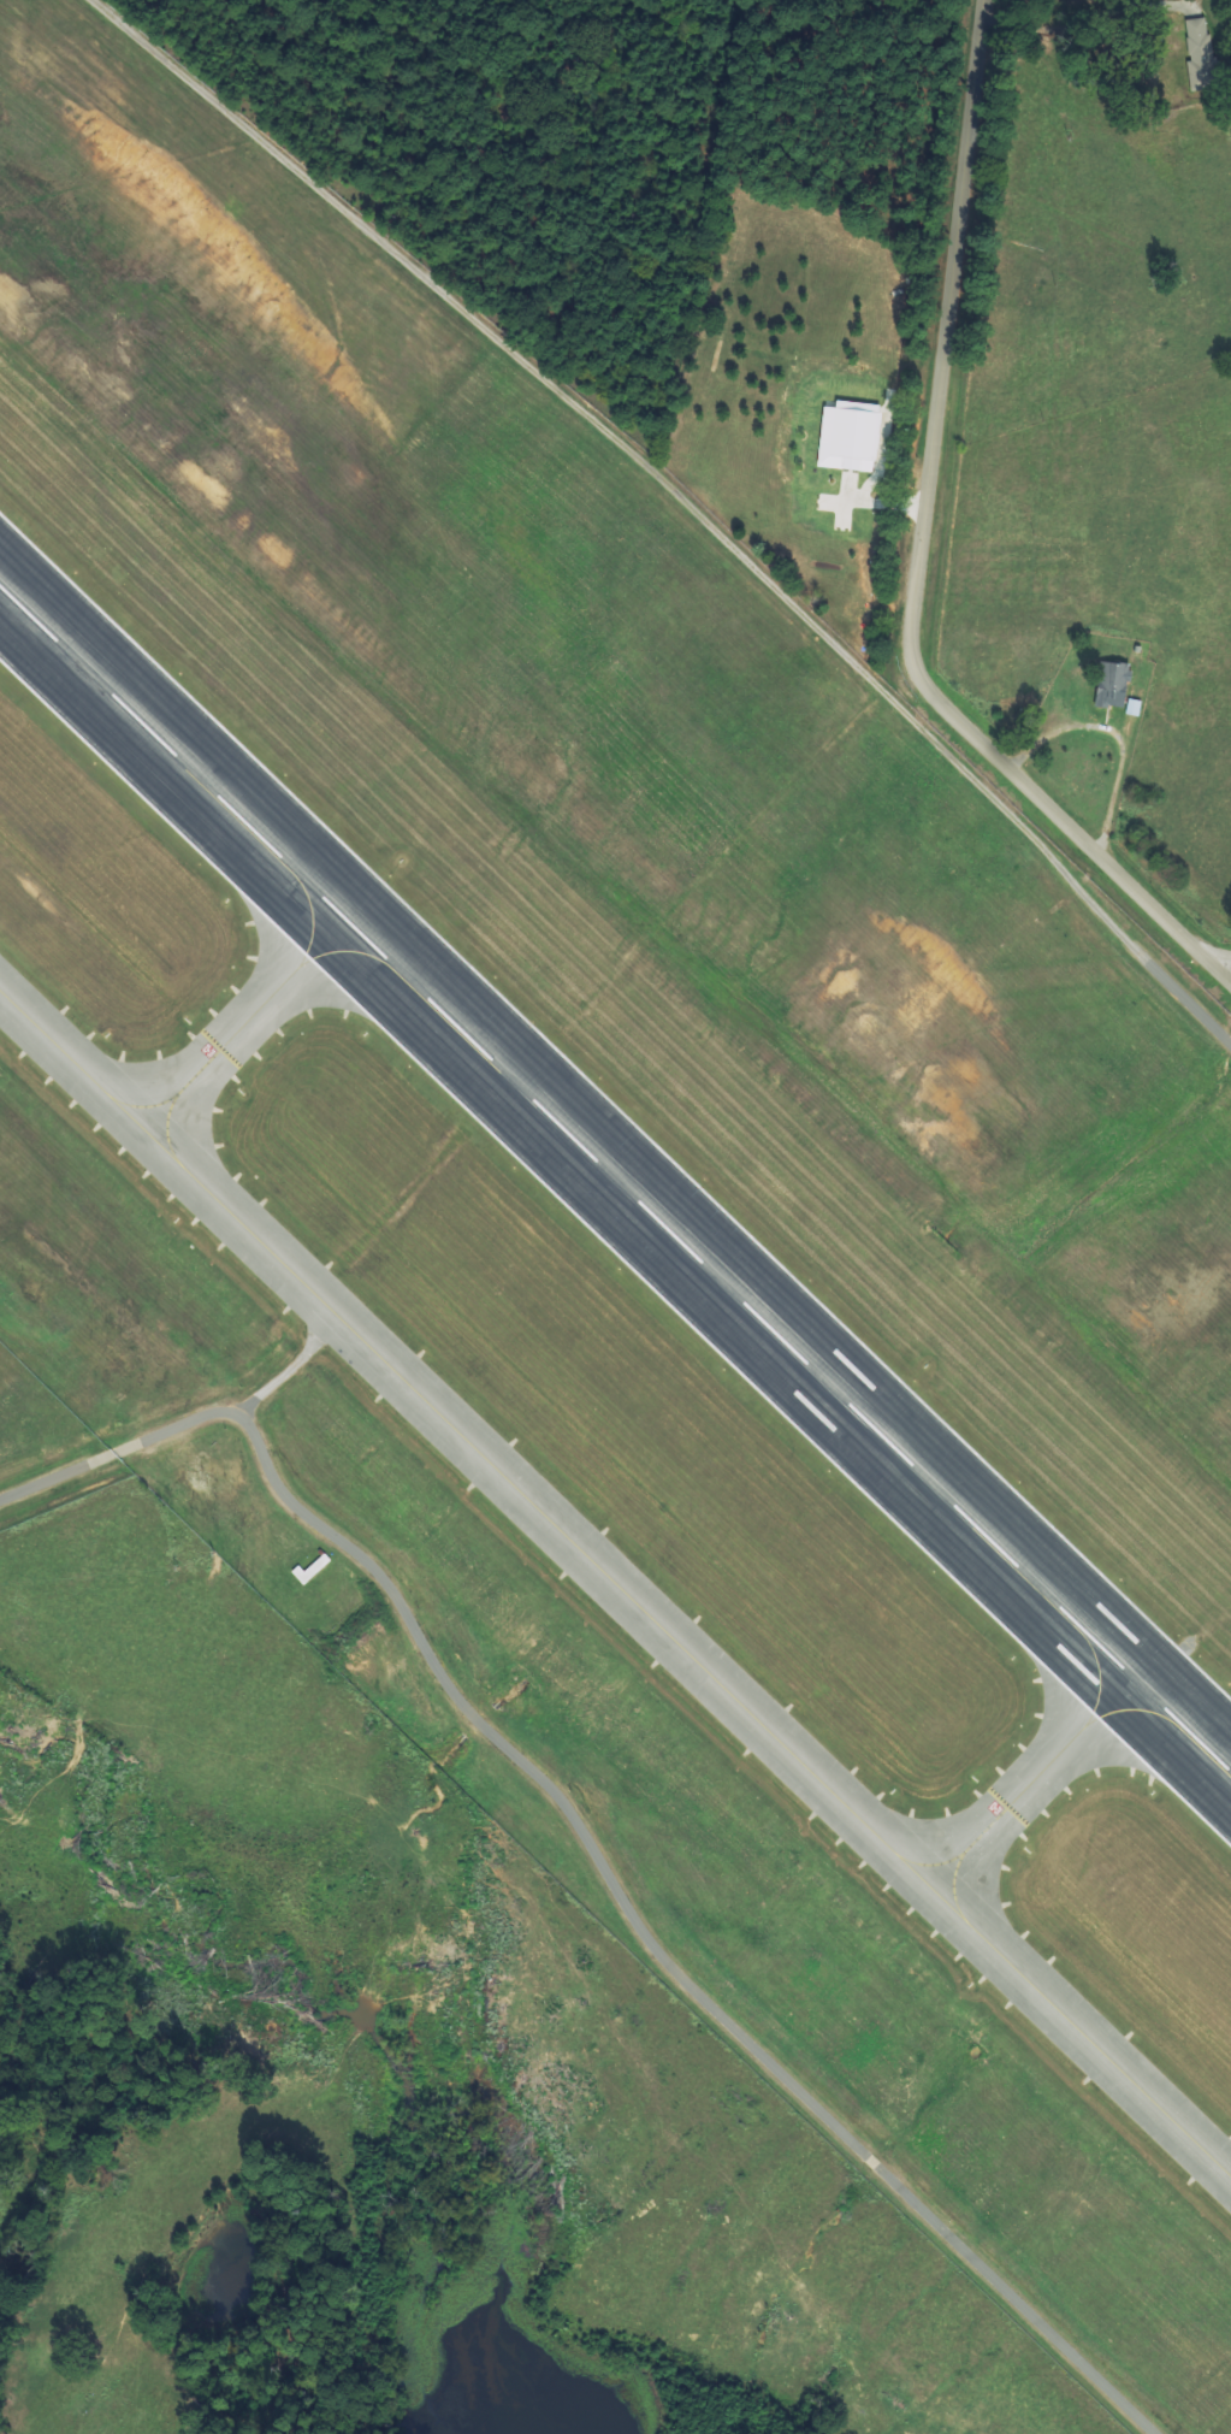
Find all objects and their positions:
building: (1199, 52)
building: (850, 437)
road: (673, 498)
road: (918, 556)
building: (1113, 684)
road: (1219, 958)
airport taxiway: (244, 1024)
airport runway: (616, 1180)
airport: (617, 1197)
airport taxiway: (615, 1584)
airport taxiway: (1031, 1783)
road: (579, 1839)

